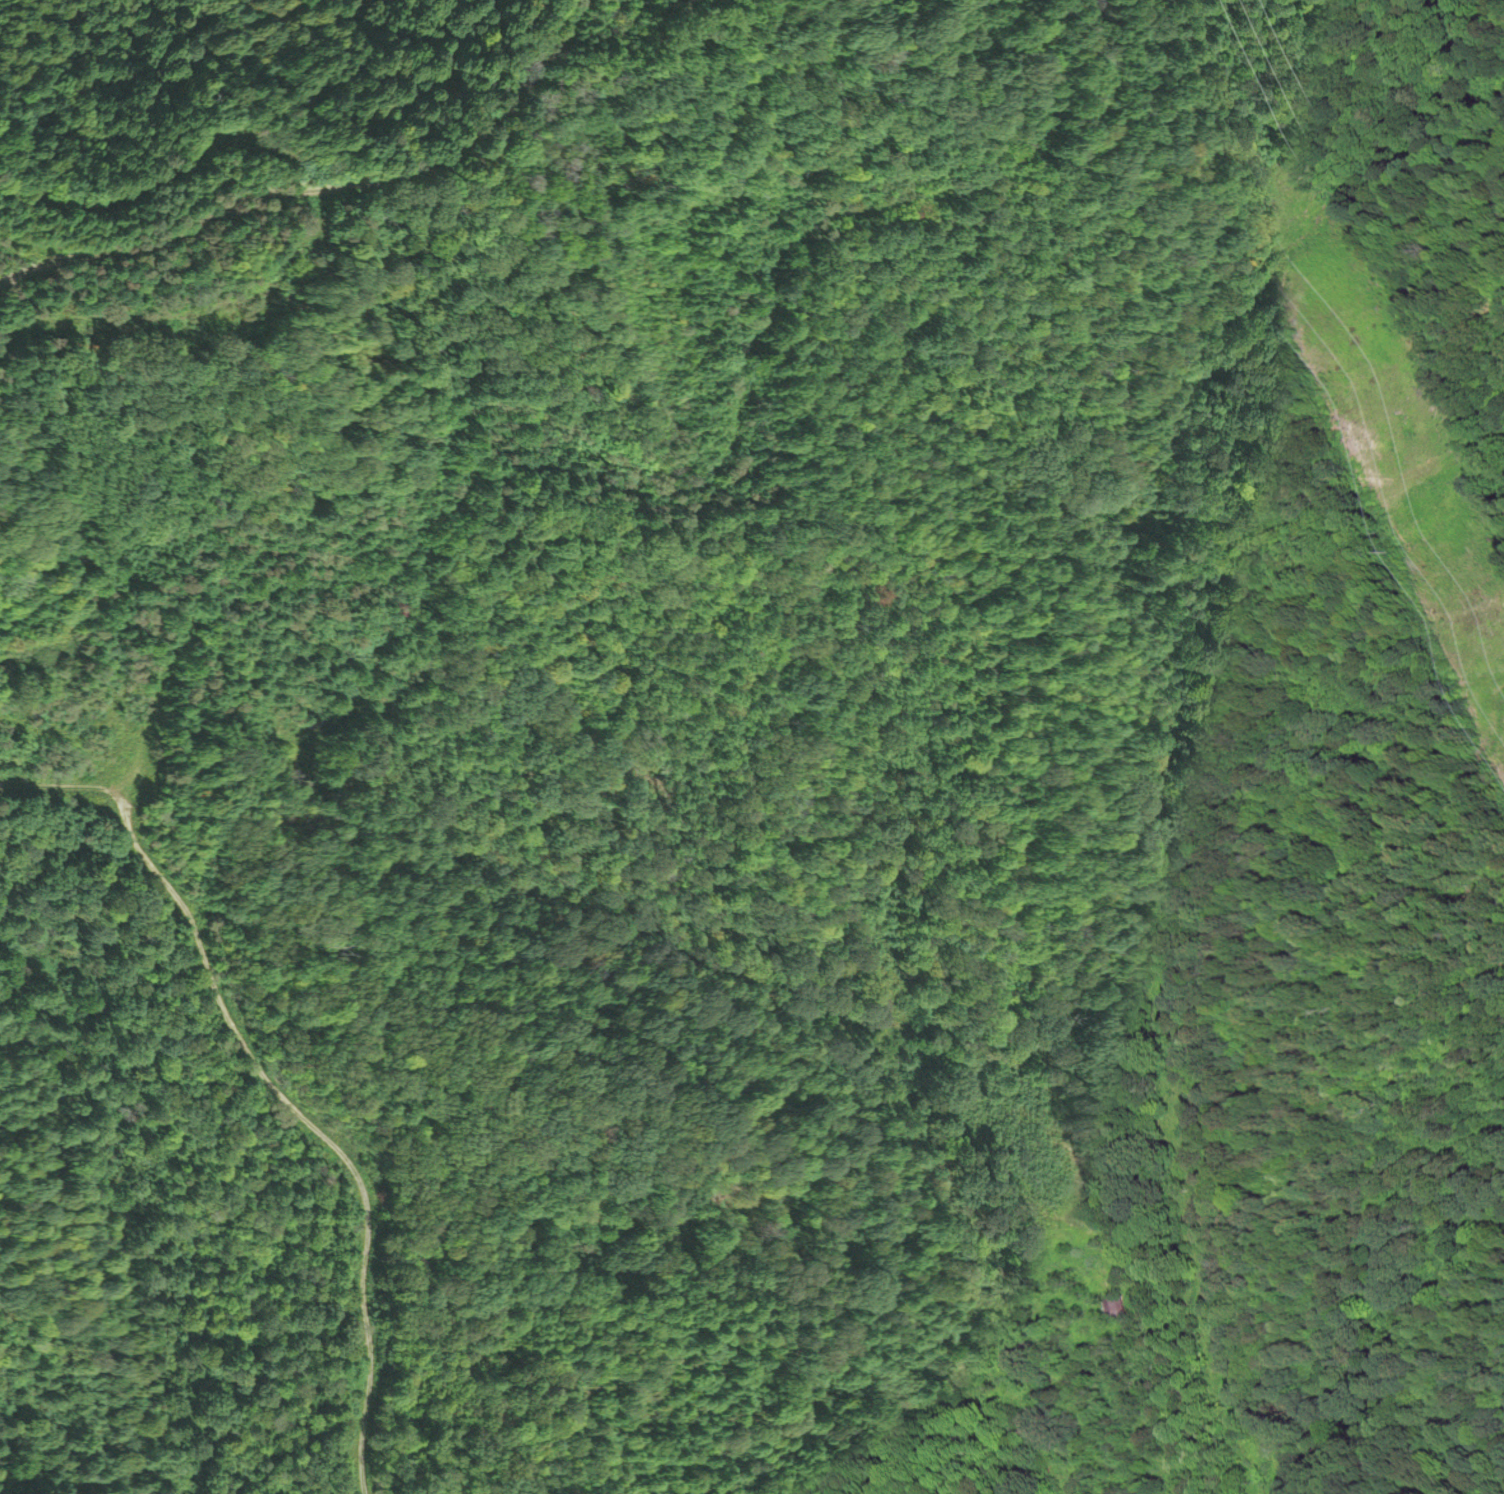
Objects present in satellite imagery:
building: (1118, 1308)

